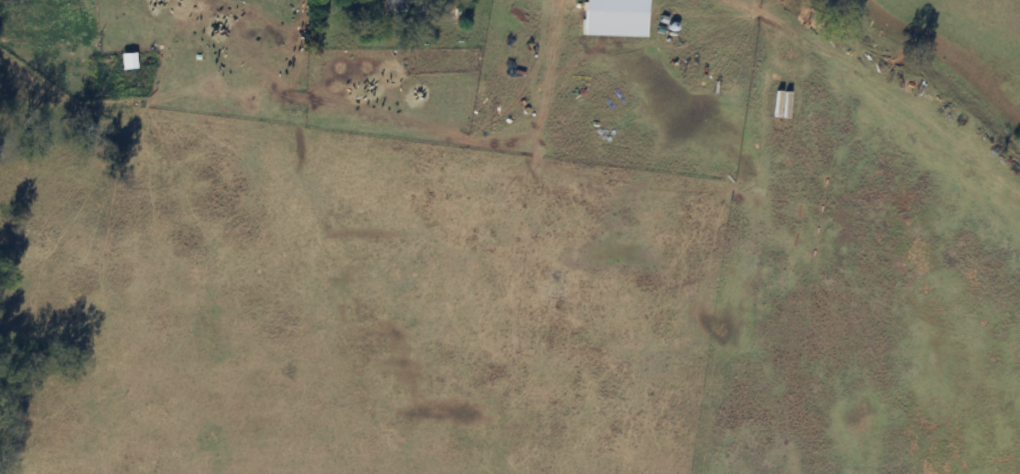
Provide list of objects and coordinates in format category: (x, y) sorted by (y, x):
building: (397, 6)
building: (617, 18)

